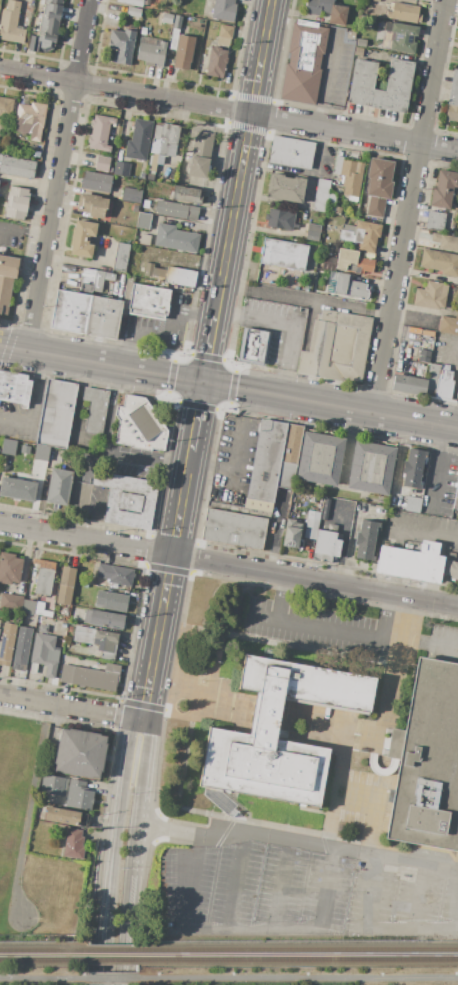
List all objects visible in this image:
building: (374, 0)
building: (423, 0)
building: (130, 2)
building: (223, 10)
building: (327, 10)
building: (133, 12)
building: (404, 13)
building: (166, 18)
building: (176, 22)
building: (11, 23)
building: (209, 26)
building: (47, 27)
building: (143, 31)
building: (224, 35)
building: (350, 35)
building: (403, 38)
building: (173, 39)
building: (361, 43)
building: (122, 45)
building: (151, 51)
building: (183, 52)
building: (358, 52)
building: (303, 61)
building: (216, 62)
building: (362, 76)
road: (328, 78)
building: (453, 90)
building: (6, 107)
road: (228, 109)
building: (452, 114)
building: (30, 120)
building: (100, 133)
building: (139, 140)
building: (162, 145)
building: (291, 153)
building: (35, 154)
building: (200, 154)
road: (245, 155)
building: (83, 164)
building: (102, 164)
building: (89, 165)
building: (338, 165)
building: (16, 167)
building: (121, 169)
road: (57, 175)
building: (141, 176)
building: (149, 177)
building: (351, 177)
building: (96, 182)
building: (378, 185)
building: (284, 188)
building: (444, 189)
building: (130, 195)
building: (186, 195)
building: (314, 195)
building: (352, 199)
building: (17, 203)
building: (91, 205)
road: (408, 206)
building: (176, 210)
building: (337, 210)
building: (280, 220)
building: (143, 221)
building: (435, 221)
road: (23, 228)
building: (313, 233)
building: (347, 233)
building: (366, 236)
building: (83, 238)
building: (175, 238)
building: (144, 239)
building: (446, 242)
building: (283, 255)
building: (120, 257)
building: (346, 260)
building: (440, 262)
building: (364, 265)
building: (148, 270)
building: (158, 271)
building: (109, 277)
building: (180, 277)
building: (6, 280)
building: (90, 281)
building: (350, 287)
building: (431, 296)
road: (305, 299)
building: (148, 301)
building: (70, 311)
road: (216, 313)
building: (103, 317)
road: (292, 322)
building: (449, 325)
road: (160, 332)
road: (449, 340)
road: (9, 345)
building: (252, 346)
building: (336, 347)
road: (209, 348)
building: (423, 356)
road: (101, 363)
building: (432, 379)
traffic signals: (203, 381)
building: (444, 382)
building: (408, 385)
road: (225, 386)
building: (14, 388)
road: (266, 393)
building: (457, 396)
road: (36, 407)
building: (94, 407)
road: (218, 409)
road: (370, 412)
building: (56, 414)
building: (139, 425)
building: (291, 444)
building: (8, 446)
building: (42, 452)
road: (235, 453)
building: (319, 458)
building: (266, 461)
building: (89, 463)
road: (129, 463)
building: (371, 468)
road: (435, 468)
building: (413, 469)
building: (286, 474)
building: (59, 487)
building: (17, 489)
building: (455, 496)
building: (127, 499)
building: (259, 503)
building: (418, 505)
road: (93, 515)
building: (310, 528)
building: (234, 529)
road: (422, 532)
building: (291, 533)
building: (365, 540)
building: (326, 546)
road: (343, 546)
road: (172, 551)
building: (412, 562)
road: (228, 564)
building: (9, 568)
road: (167, 570)
building: (452, 570)
building: (115, 575)
building: (43, 576)
building: (66, 586)
building: (111, 601)
building: (10, 602)
building: (28, 607)
building: (42, 610)
building: (61, 617)
building: (103, 619)
building: (0, 622)
building: (63, 625)
building: (43, 629)
building: (69, 629)
road: (327, 630)
building: (63, 633)
building: (84, 635)
building: (105, 641)
building: (6, 643)
road: (438, 646)
building: (21, 649)
building: (45, 653)
building: (33, 668)
building: (91, 677)
road: (72, 708)
building: (262, 732)
building: (281, 734)
building: (79, 753)
building: (427, 761)
road: (122, 784)
building: (52, 785)
road: (357, 786)
building: (79, 796)
building: (66, 817)
building: (73, 844)
road: (352, 851)
road: (138, 852)
road: (416, 863)
building: (394, 870)
building: (411, 870)
building: (404, 878)
parking lot: (303, 883)
road: (234, 889)
road: (279, 889)
road: (109, 892)
road: (418, 897)
road: (457, 919)
road: (250, 929)
railway: (297, 951)
railway: (43, 952)
railway: (112, 952)
road: (103, 959)
railway: (298, 960)
railway: (43, 961)
railway: (112, 961)
road: (41, 978)
park: (42, 978)
road: (109, 978)
park: (293, 978)
road: (296, 978)

